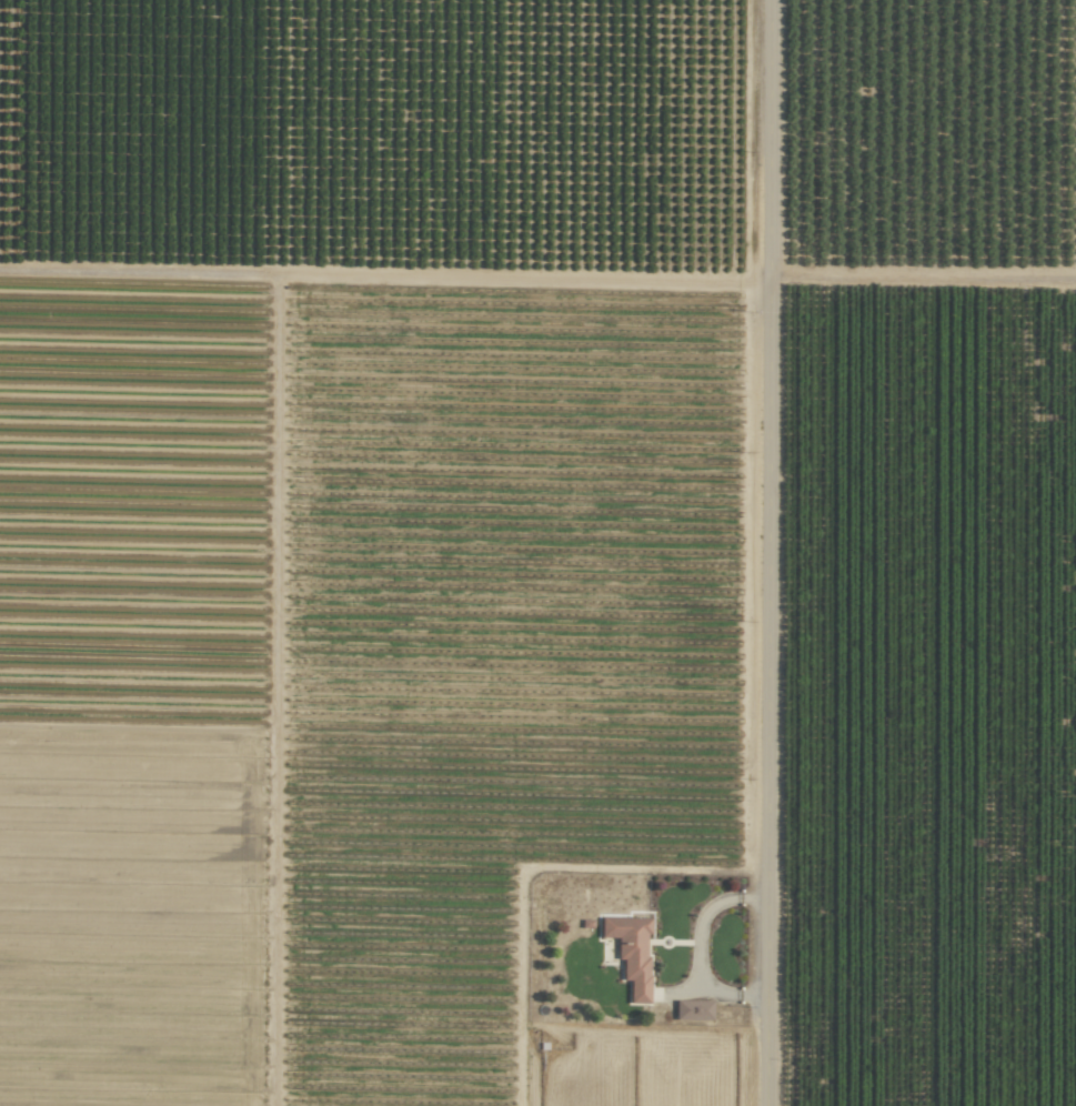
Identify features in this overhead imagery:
road: (771, 553)
road: (697, 949)
building: (631, 953)
building: (693, 1009)

